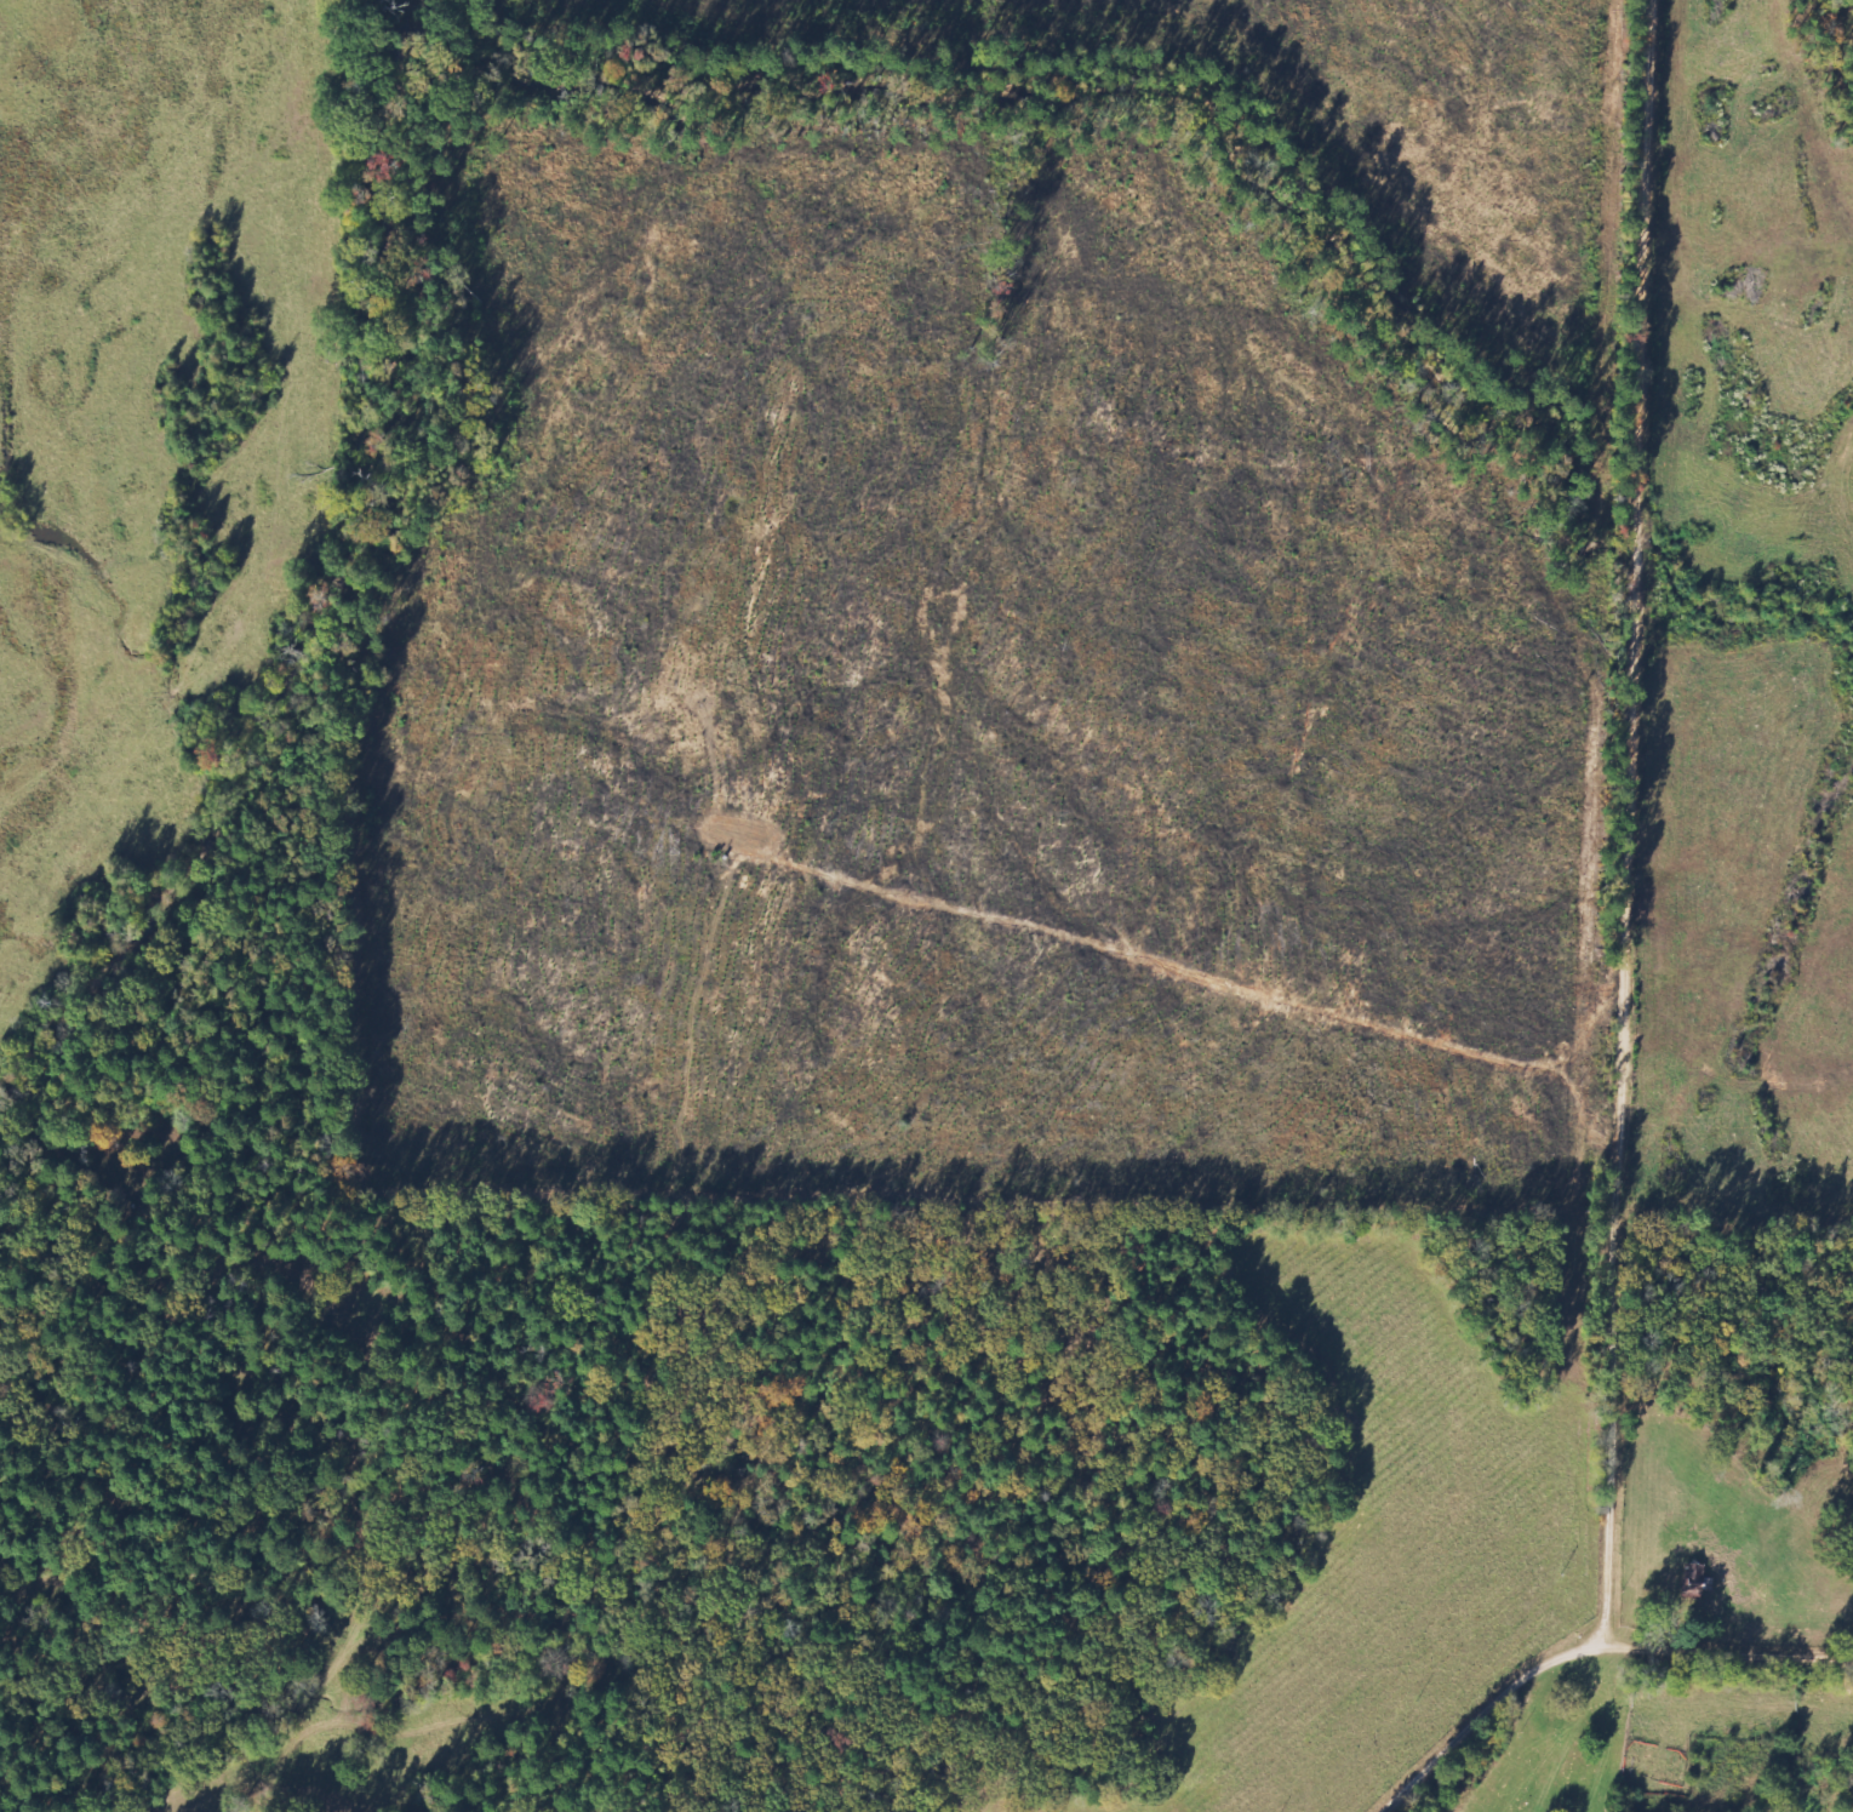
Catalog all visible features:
road: (1641, 825)
building: (1695, 1572)
road: (1732, 1664)
road: (1489, 1710)

